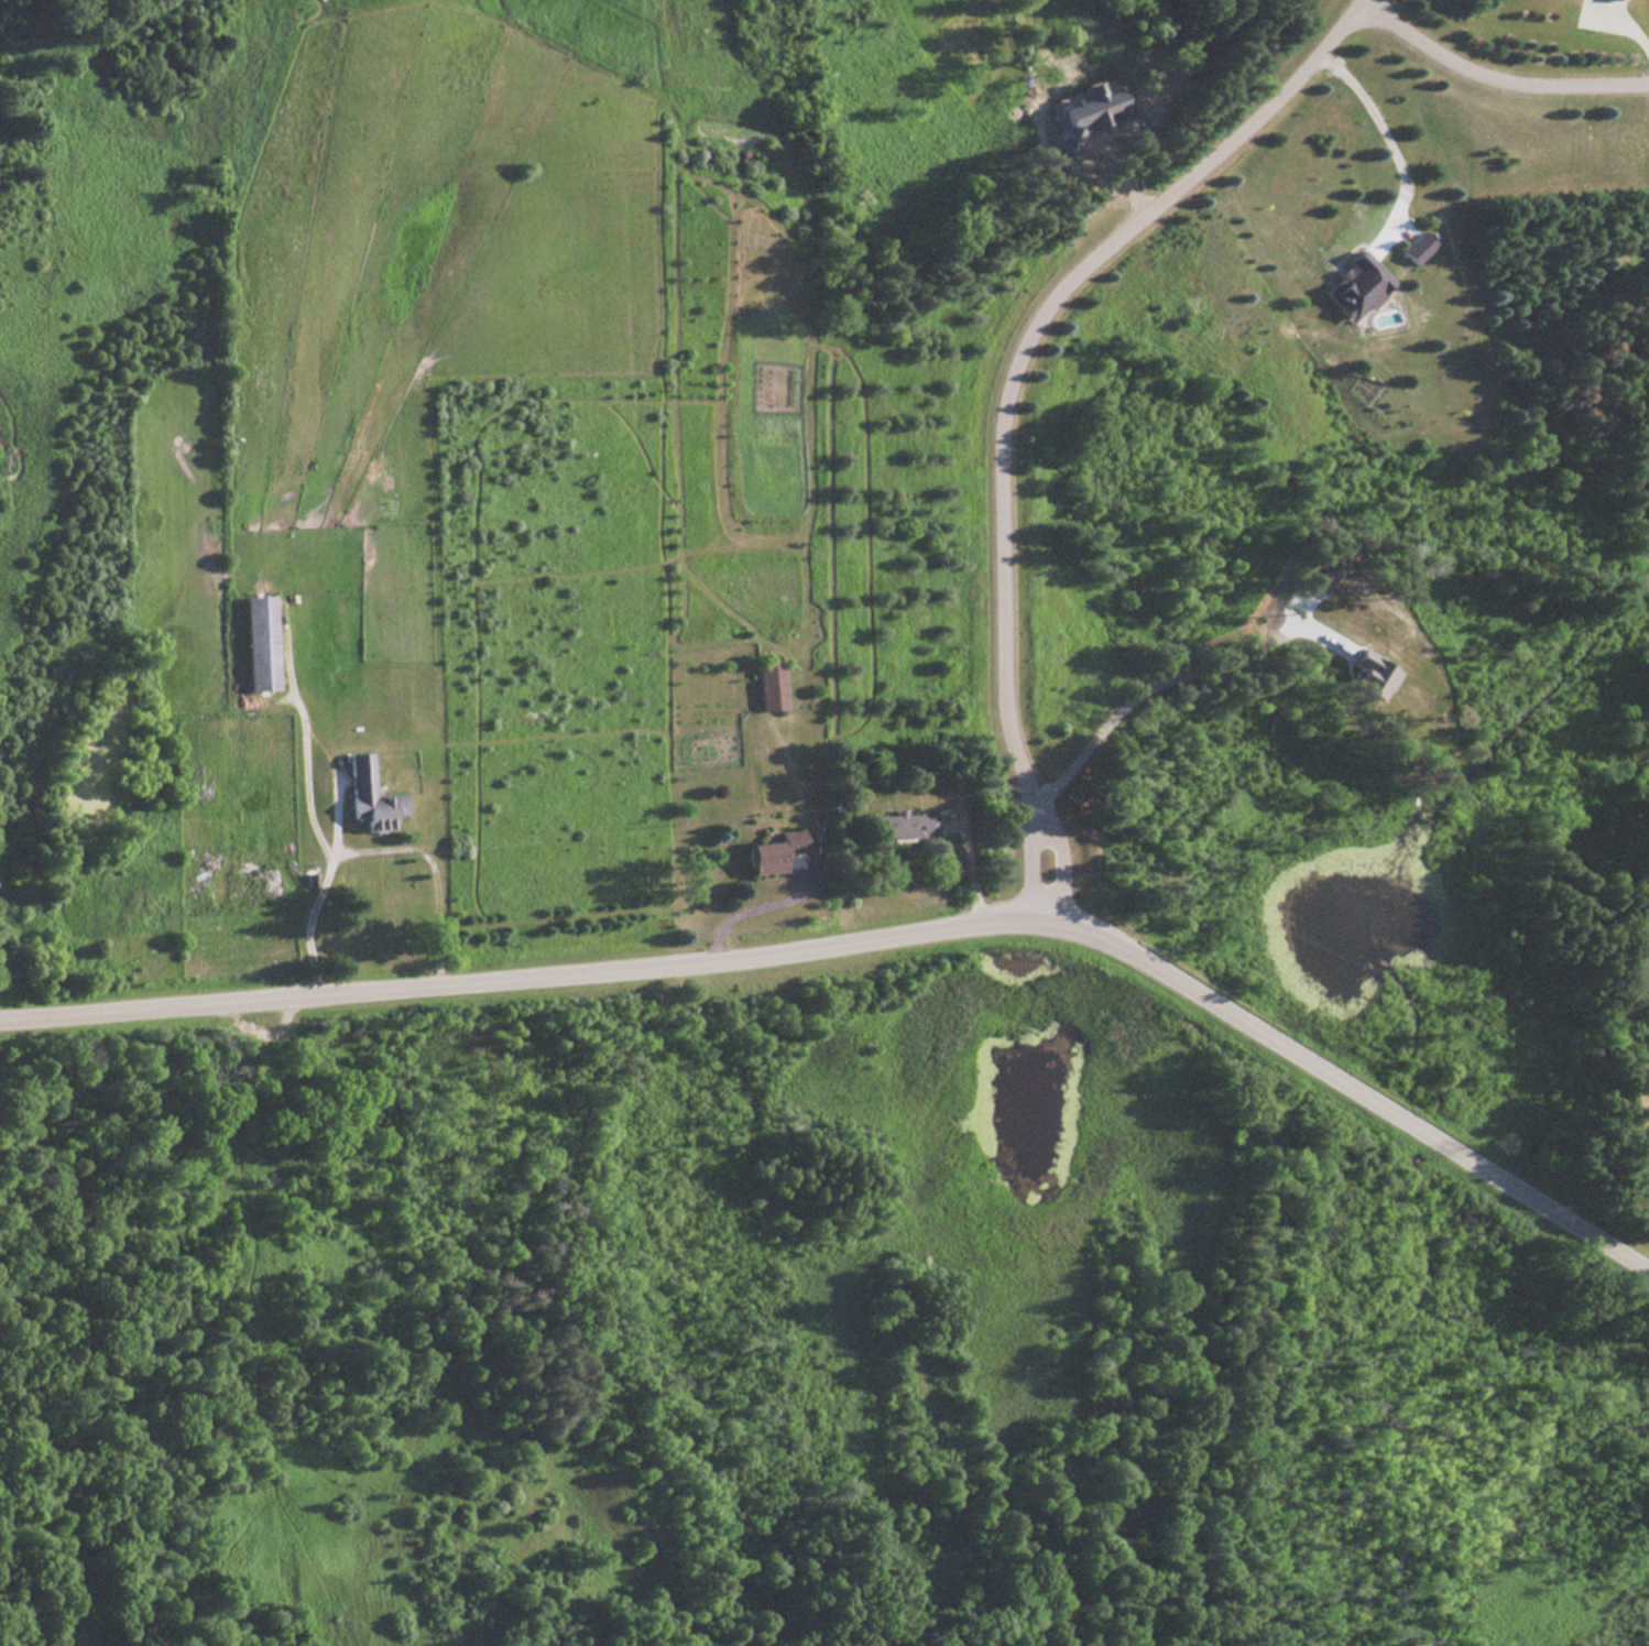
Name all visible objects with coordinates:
road: (1621, 22)
road: (1493, 79)
road: (1390, 141)
road: (1004, 393)
building: (255, 643)
road: (1170, 675)
building: (768, 687)
road: (305, 775)
building: (365, 797)
building: (908, 826)
road: (372, 850)
building: (769, 853)
building: (241, 889)
road: (741, 912)
road: (871, 938)
parking lot: (287, 1024)
park: (788, 1328)
road: (1221, 1386)
road: (262, 1431)

